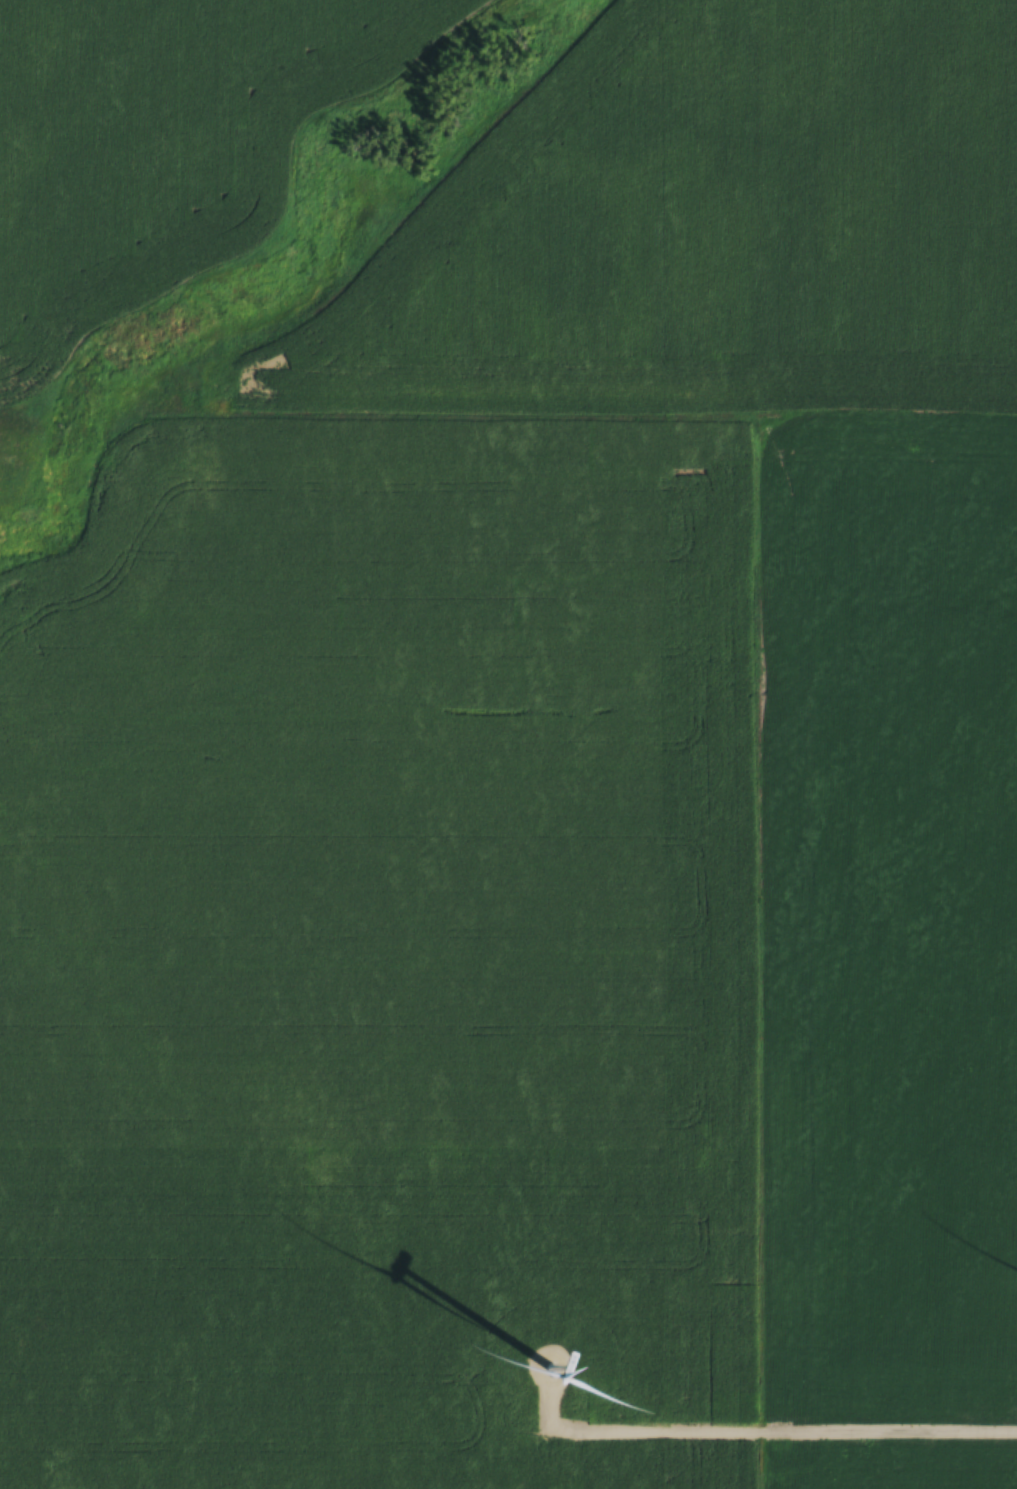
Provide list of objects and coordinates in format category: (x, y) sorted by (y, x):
wind turbine: (552, 1370)

